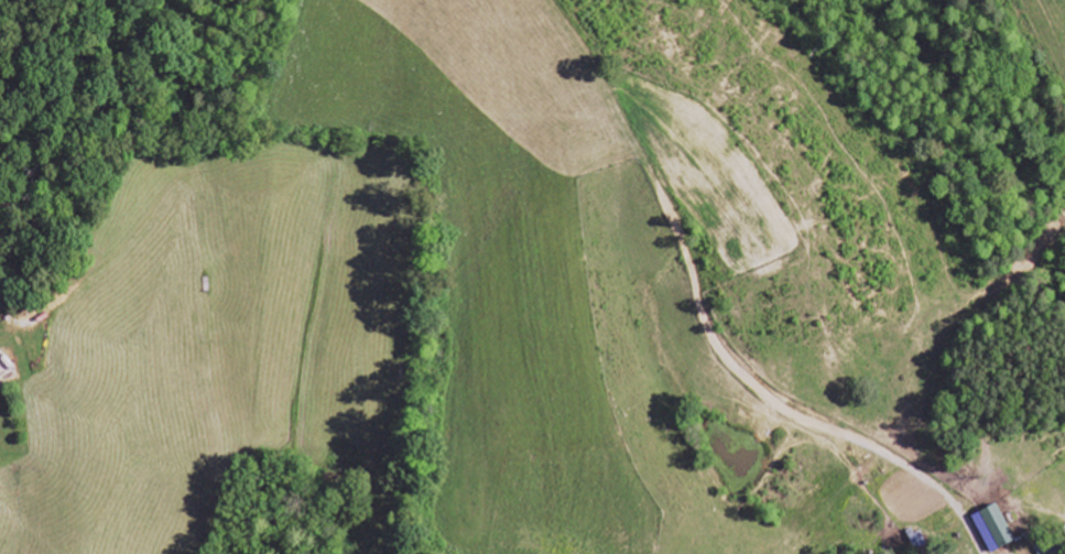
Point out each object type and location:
building: (1, 385)
building: (993, 528)
building: (916, 539)
building: (1045, 548)

